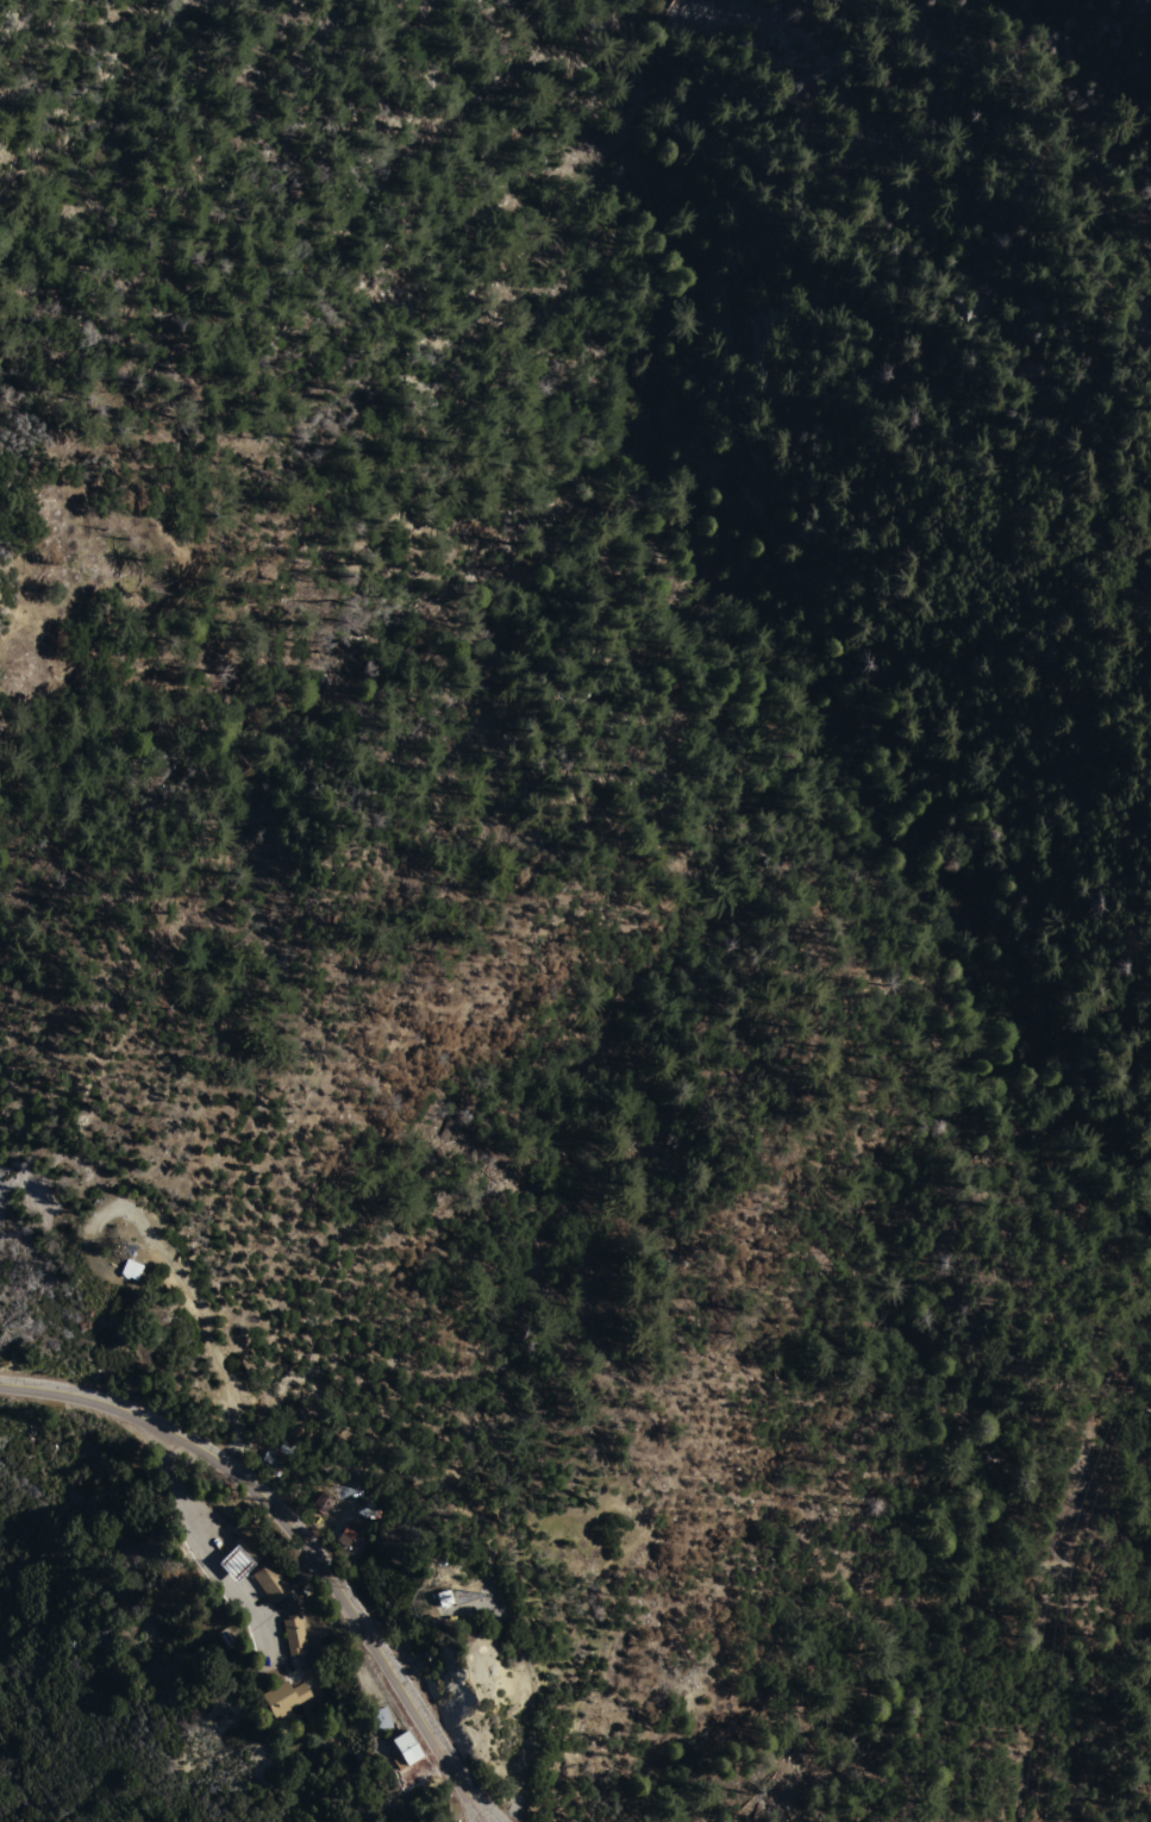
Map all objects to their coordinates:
road: (669, 815)
building: (130, 1269)
road: (184, 1292)
building: (271, 1458)
building: (321, 1501)
building: (348, 1532)
road: (298, 1533)
building: (356, 1535)
building: (240, 1555)
building: (273, 1580)
building: (444, 1596)
building: (294, 1630)
building: (284, 1696)
building: (405, 1748)
road: (639, 1817)
road: (817, 1821)

